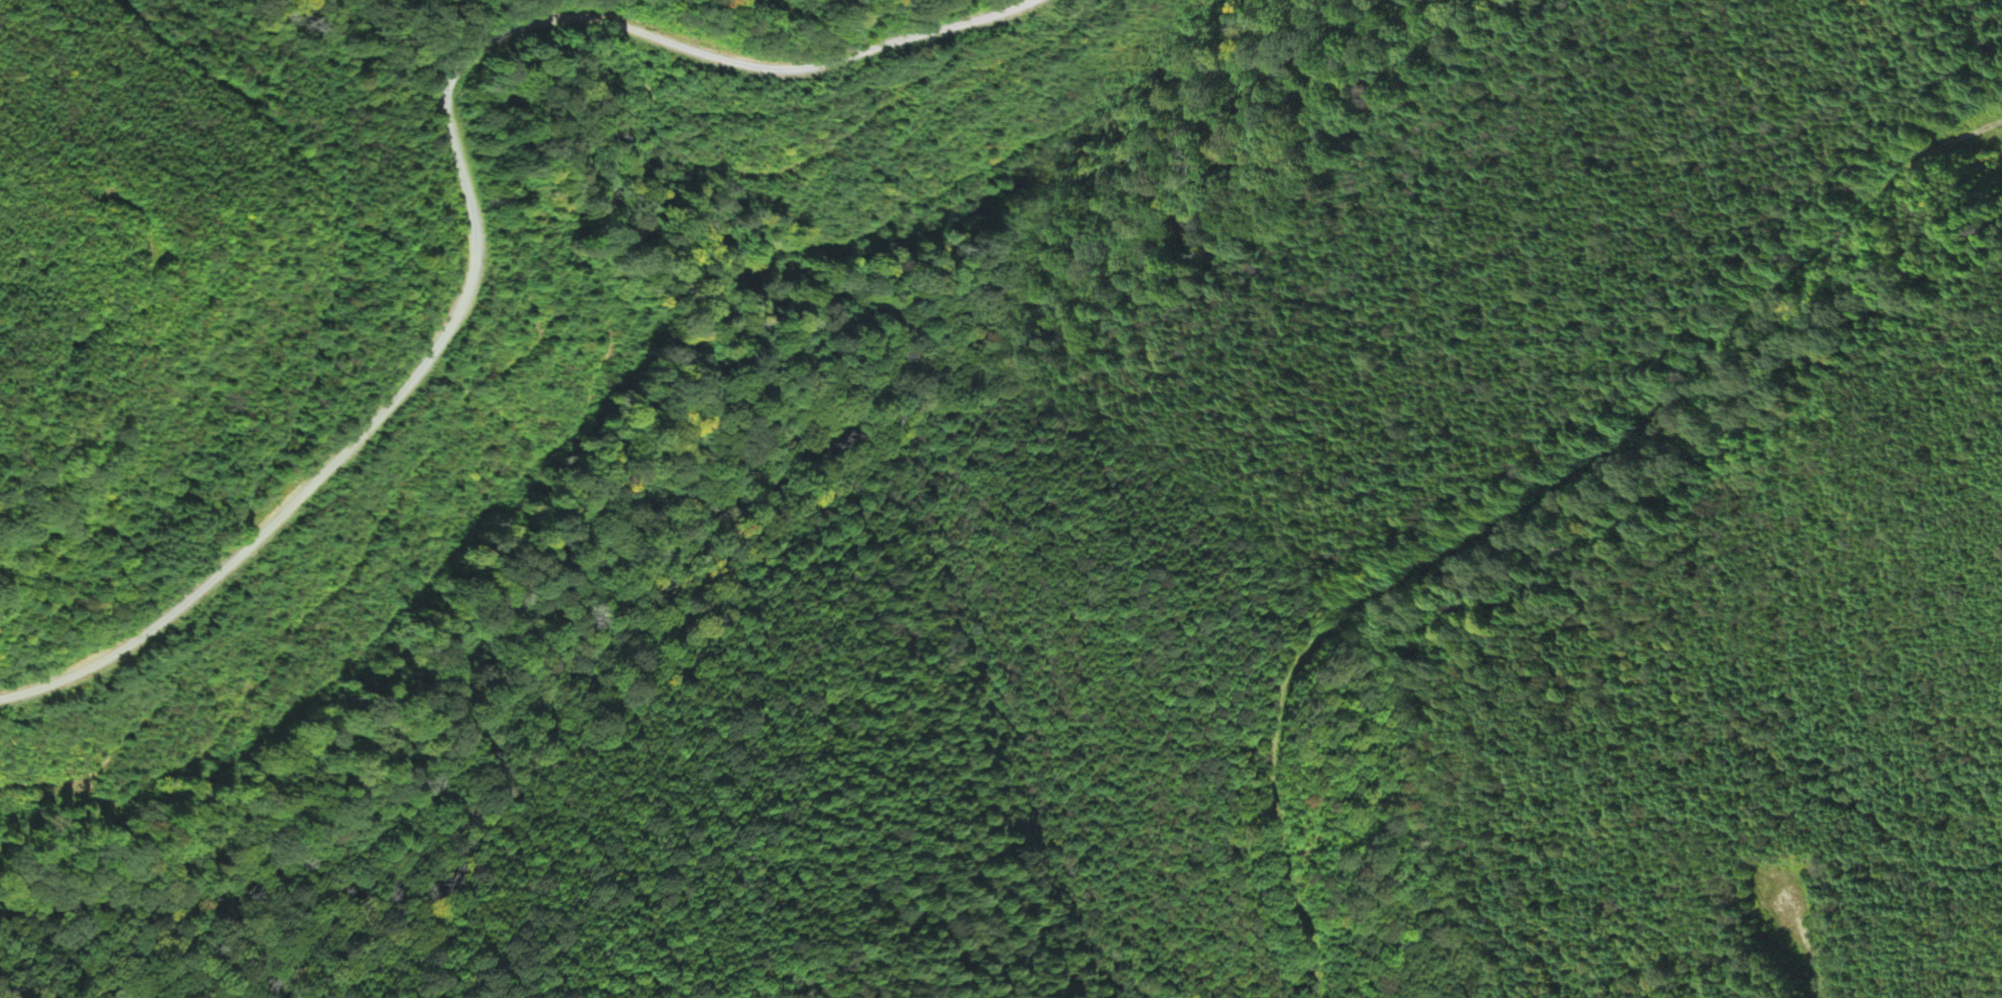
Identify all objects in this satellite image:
road: (871, 8)
road: (384, 418)
road: (1524, 466)

